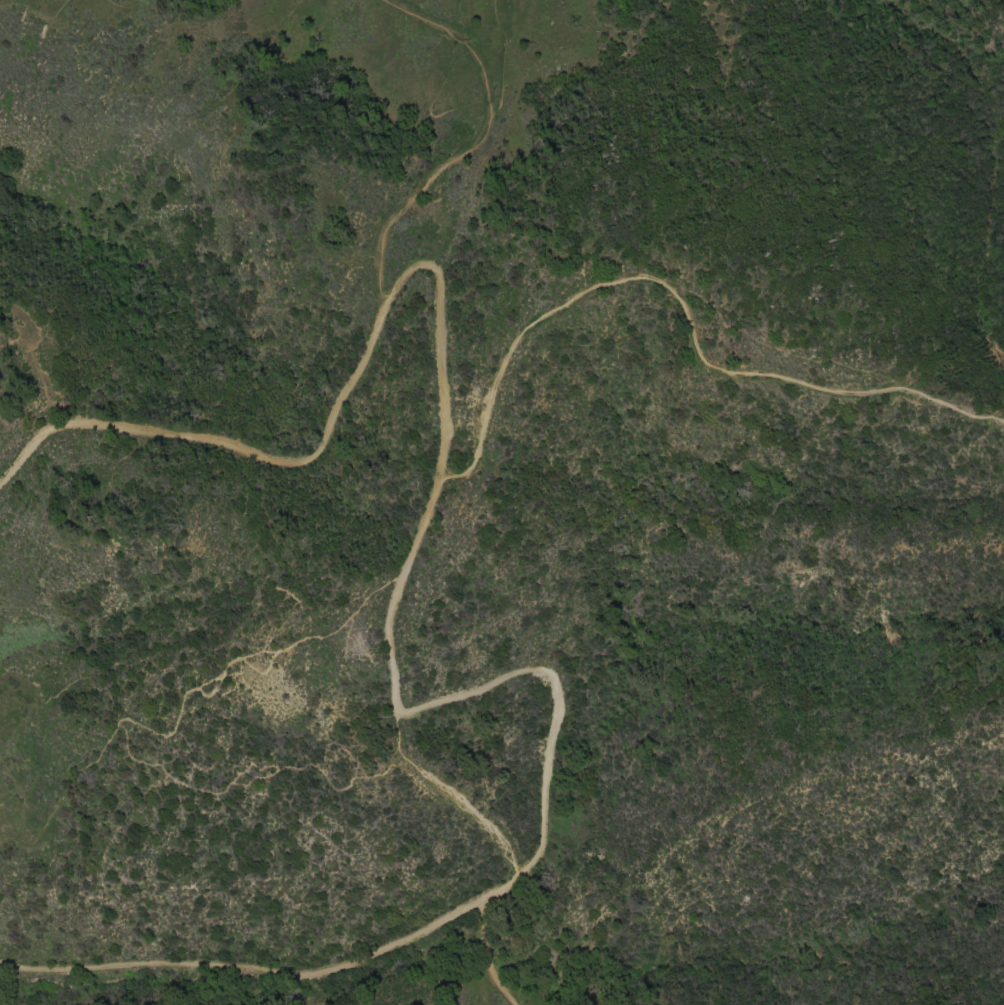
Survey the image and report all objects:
road: (685, 307)
road: (441, 467)
road: (259, 969)

